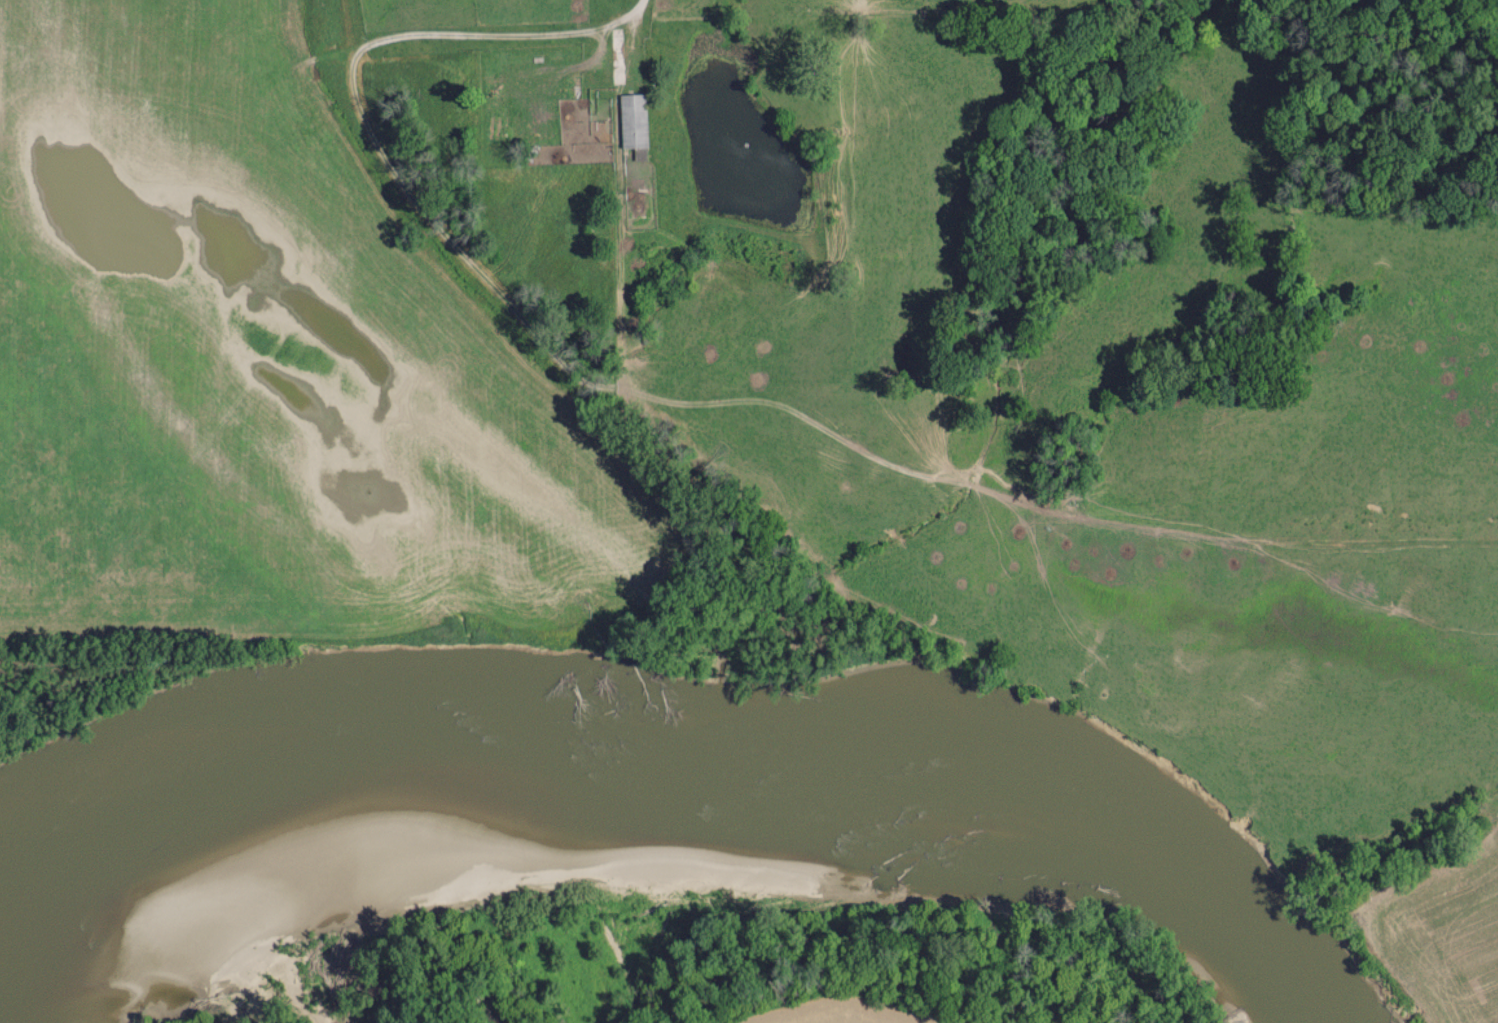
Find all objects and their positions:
building: (633, 123)
river: (704, 767)

